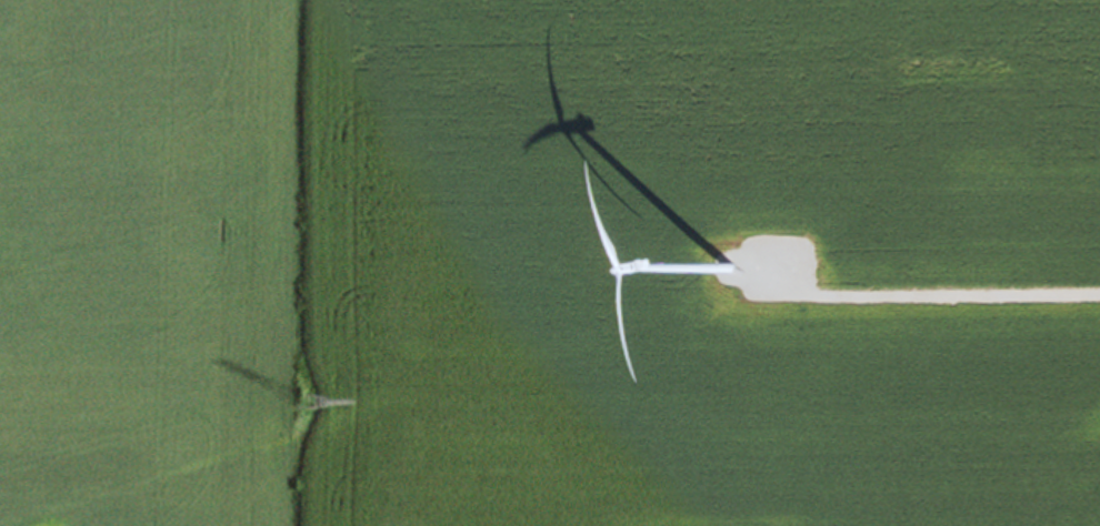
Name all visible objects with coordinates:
wind turbine: (729, 267)
road: (923, 299)
power tower: (301, 407)

